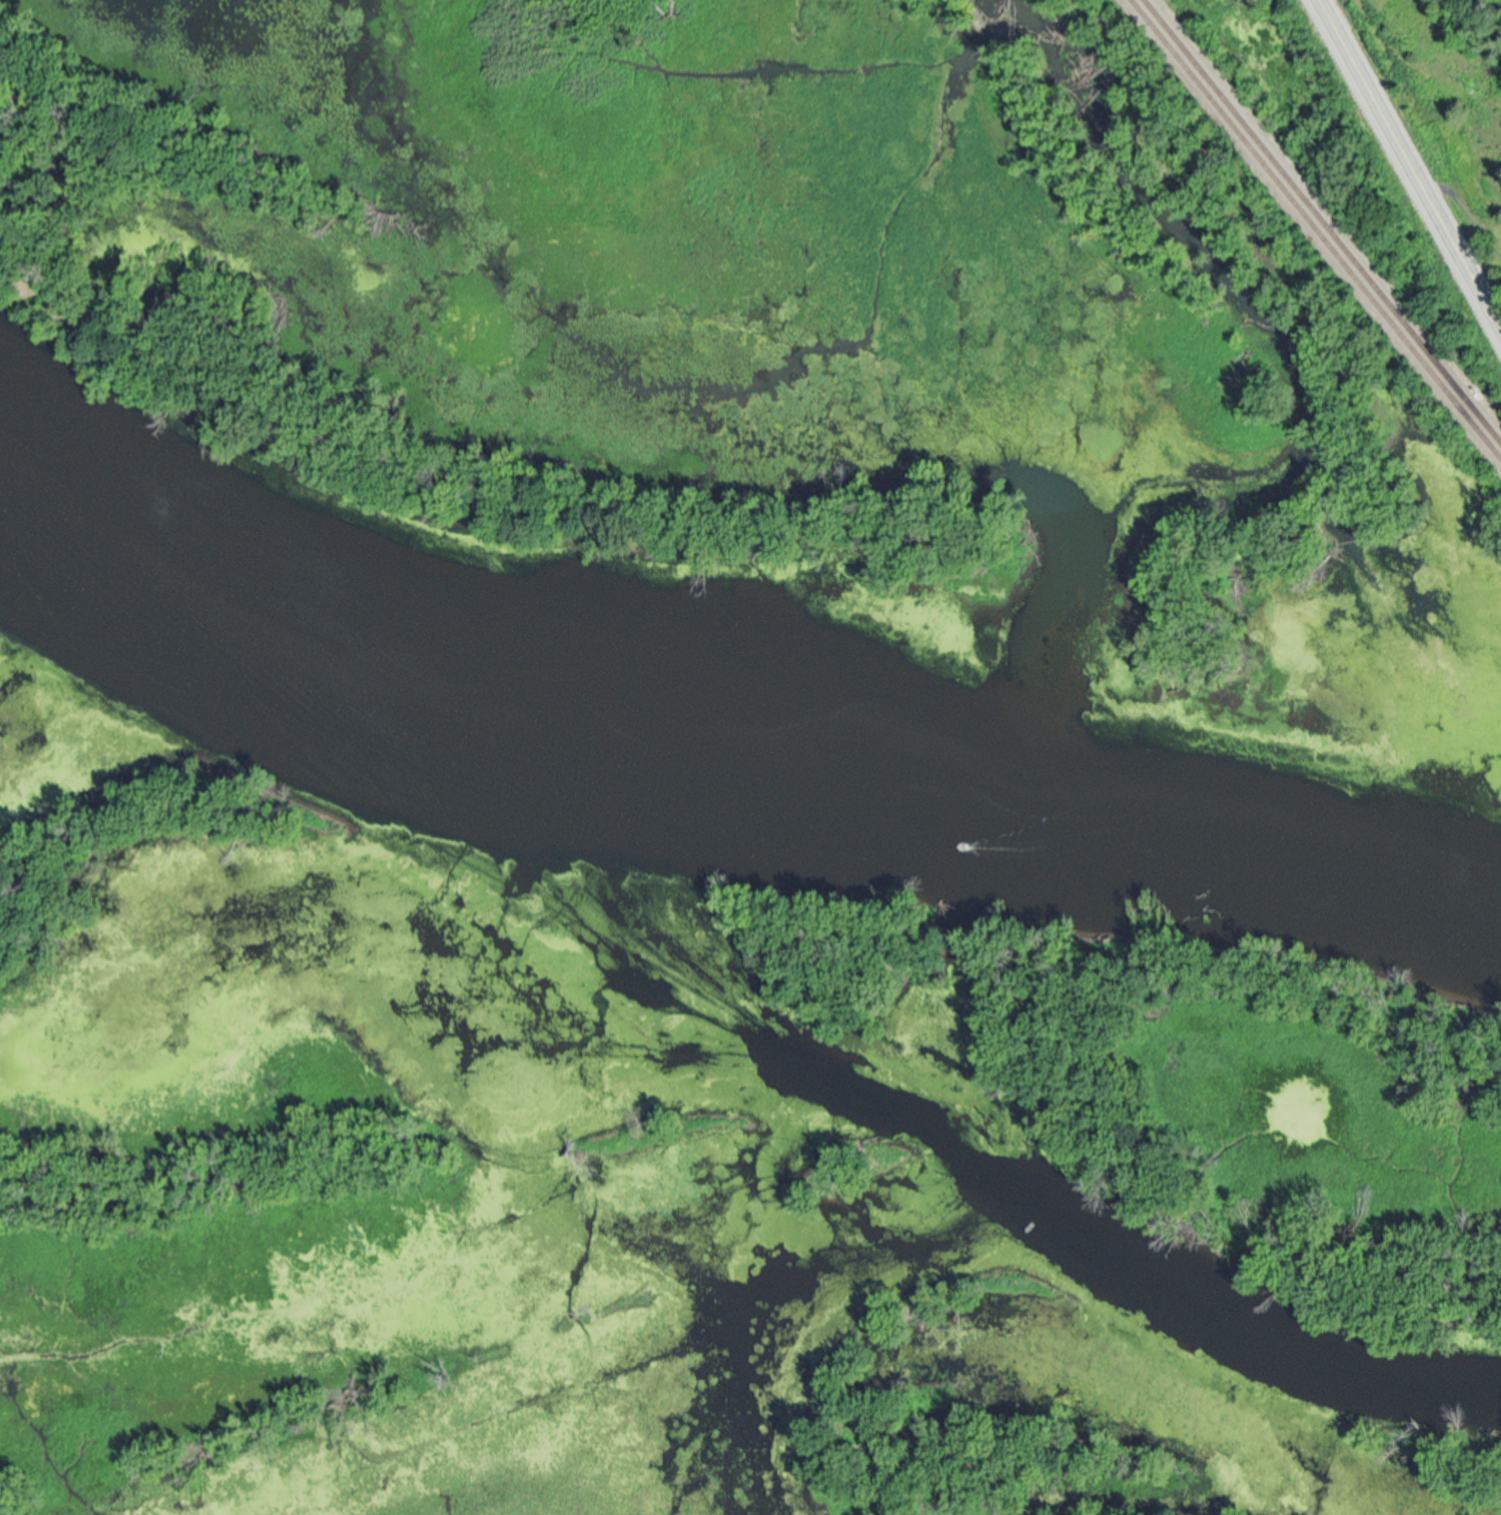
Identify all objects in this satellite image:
road: (1411, 164)
railway: (1323, 220)
railway: (1317, 227)

